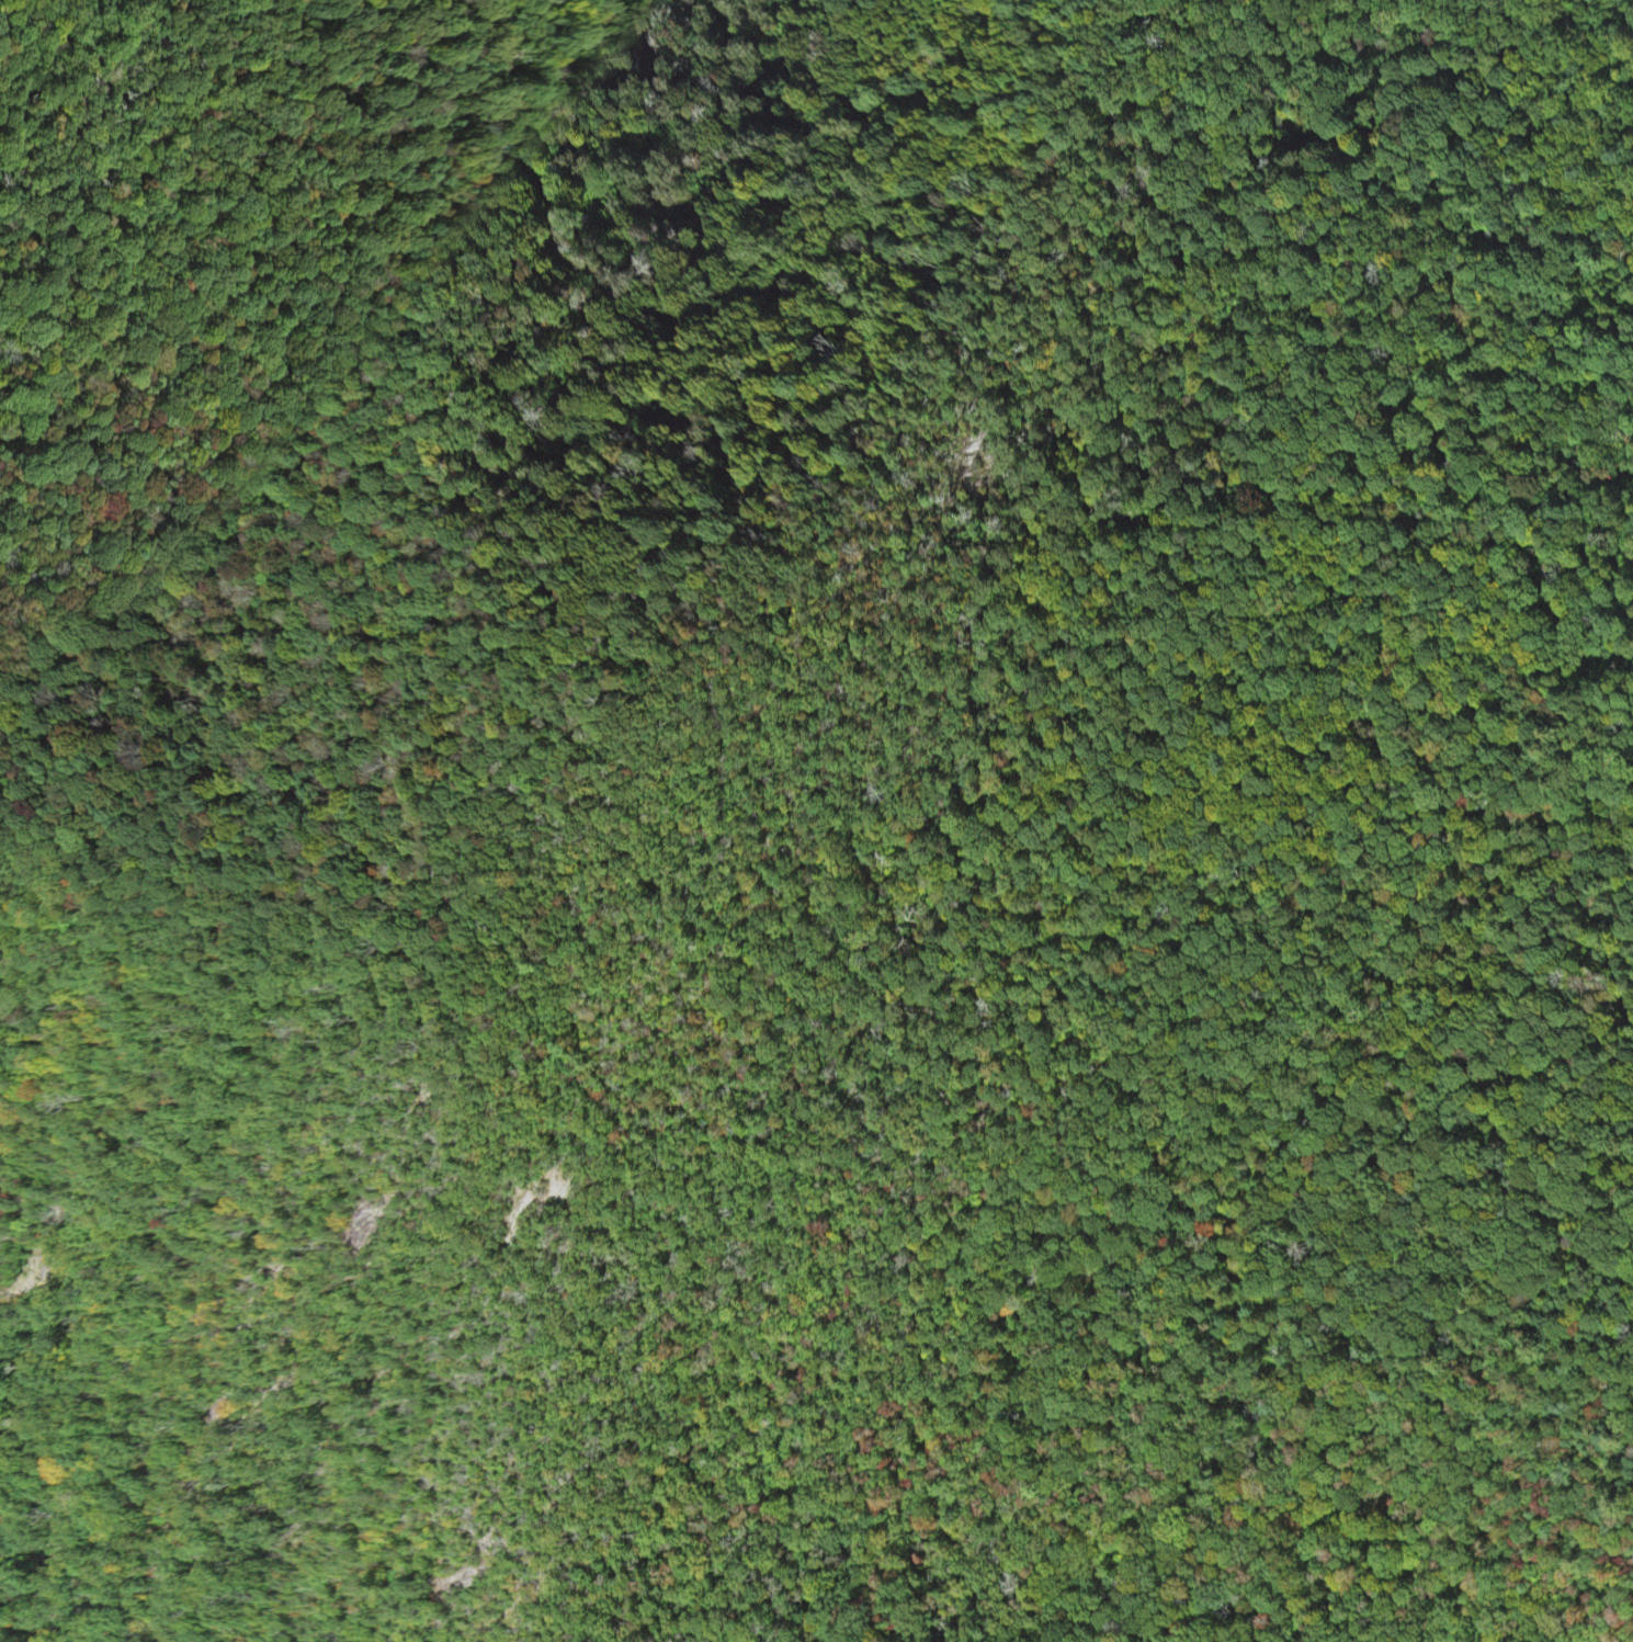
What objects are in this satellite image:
road: (388, 869)
road: (999, 1596)

